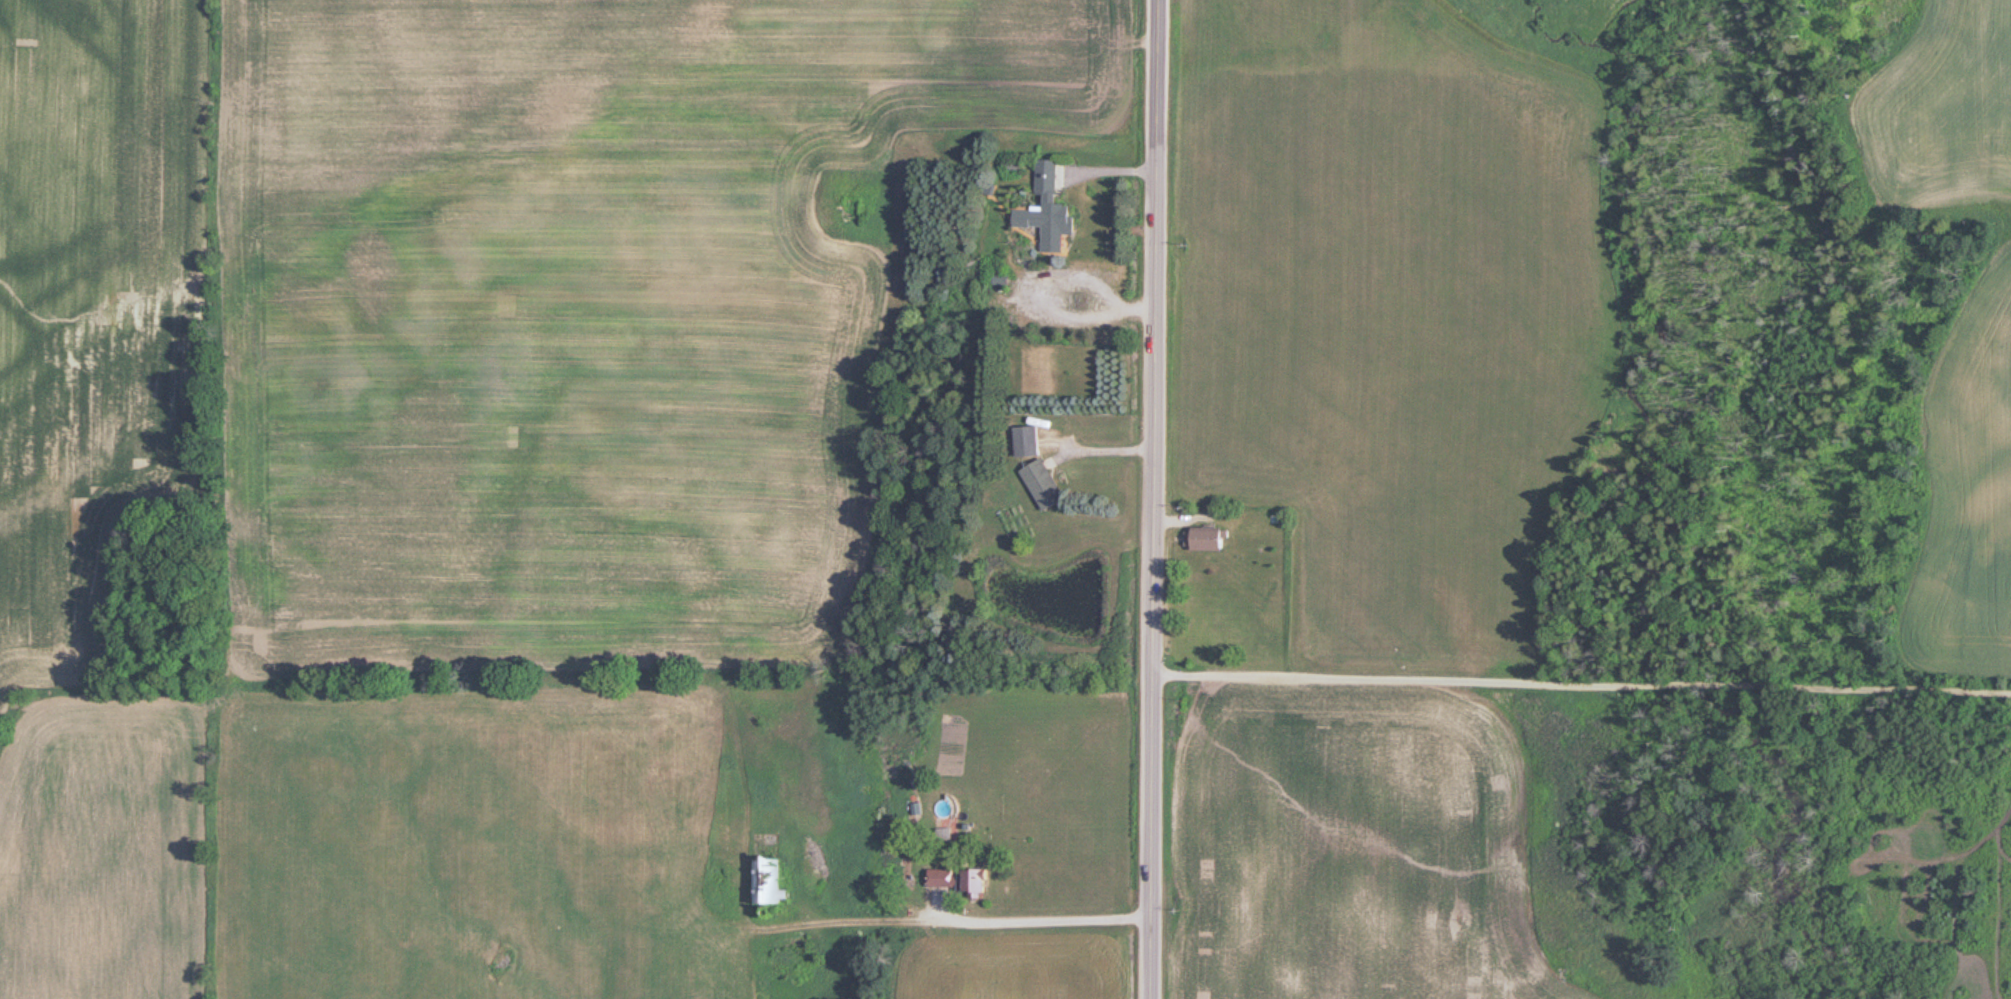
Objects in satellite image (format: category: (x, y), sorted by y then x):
building: (1054, 209)
building: (1031, 440)
building: (1047, 485)
road: (1156, 499)
building: (1214, 539)
road: (1580, 694)
building: (947, 878)
building: (772, 880)
building: (983, 881)

